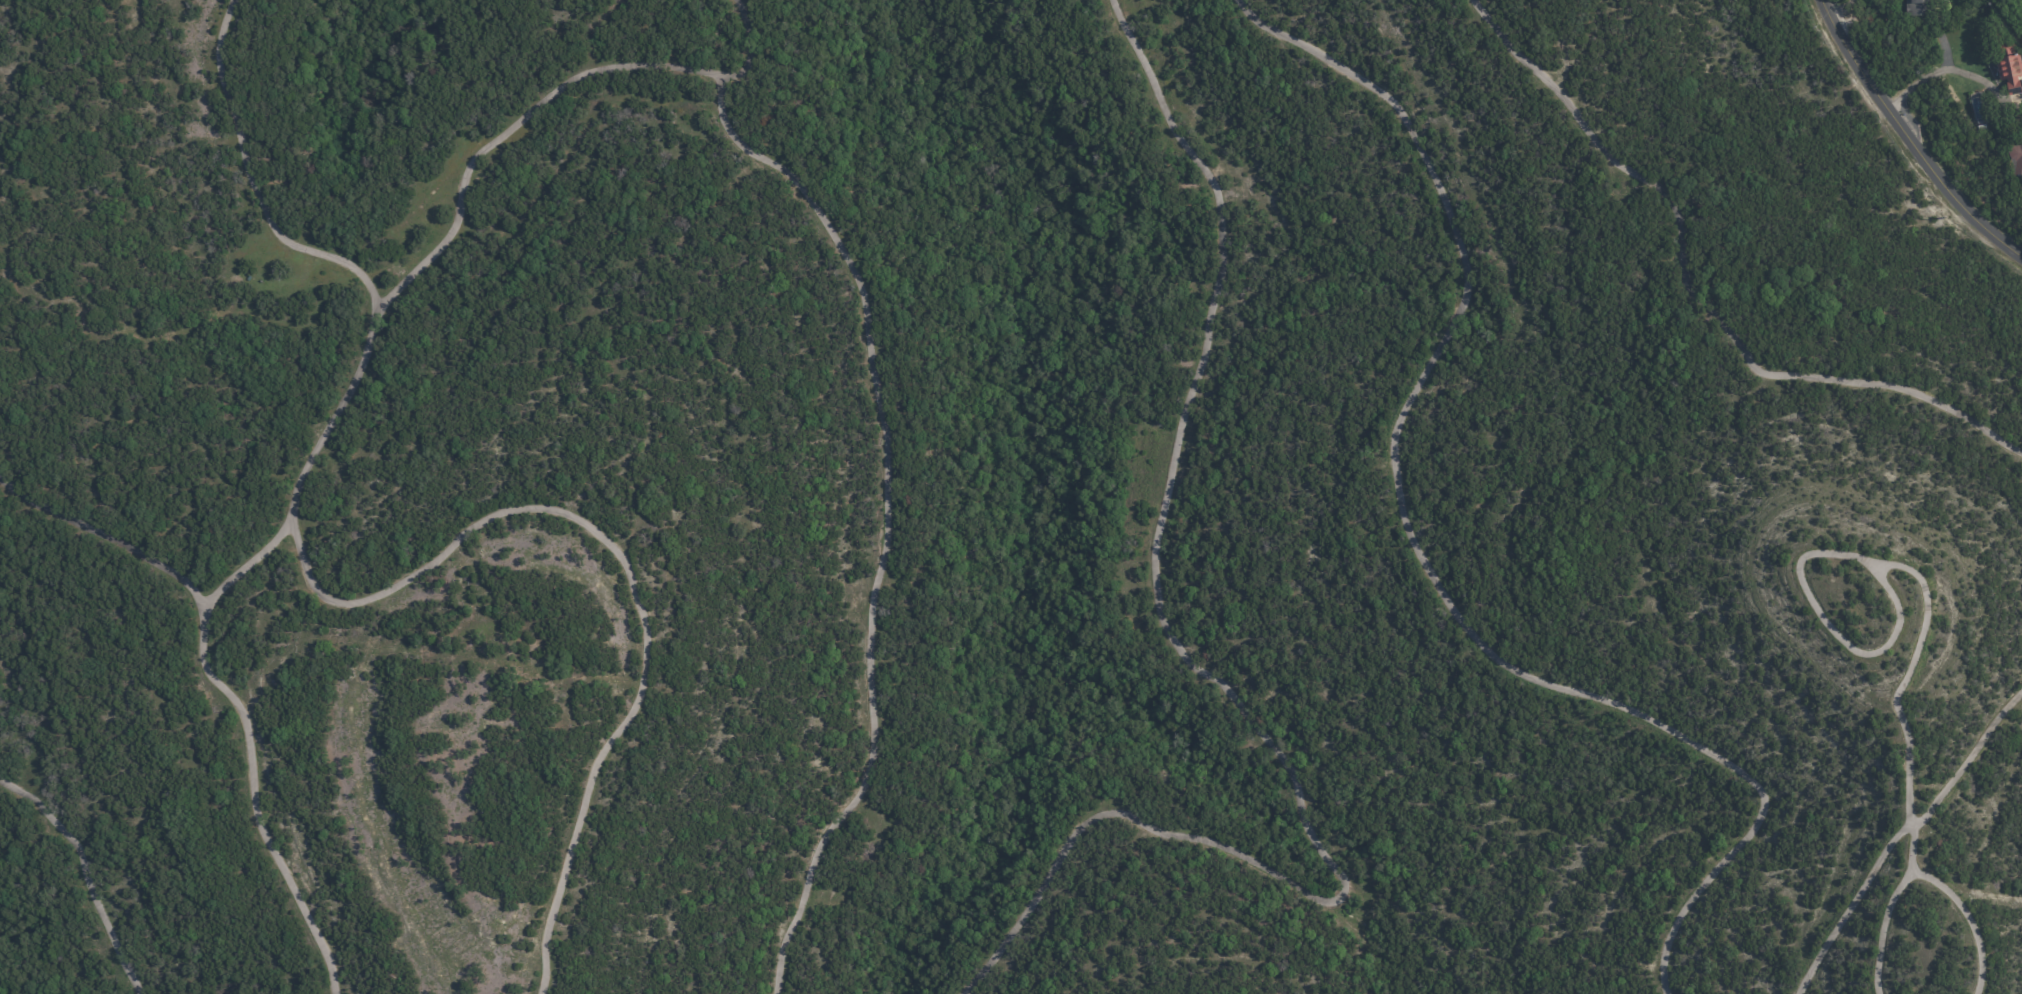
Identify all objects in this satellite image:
building: (1916, 8)
building: (2008, 69)
building: (2021, 87)
road: (1916, 129)
building: (2015, 161)
building: (2021, 231)

